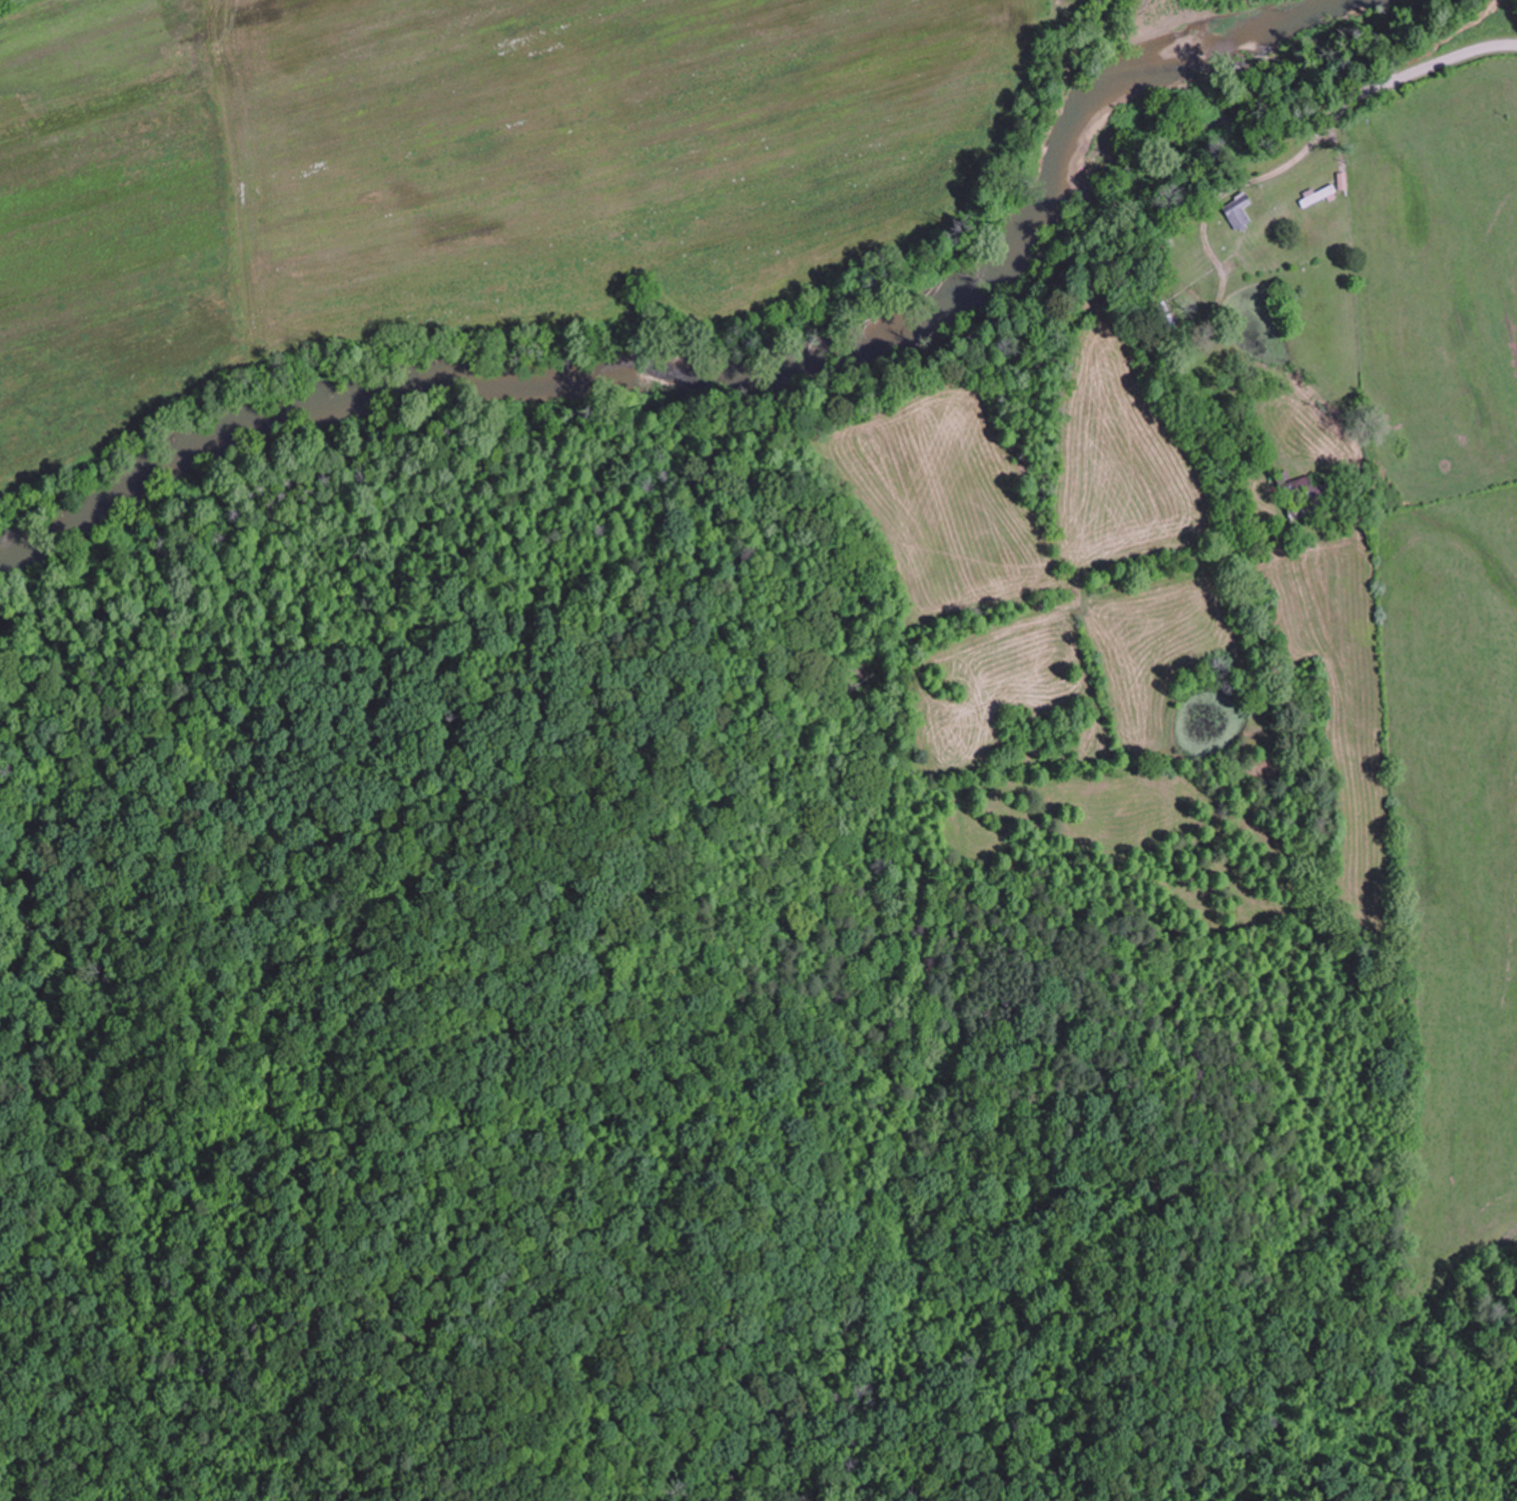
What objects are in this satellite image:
road: (1419, 75)
building: (1317, 195)
building: (1237, 211)
river: (716, 363)
building: (1301, 495)

